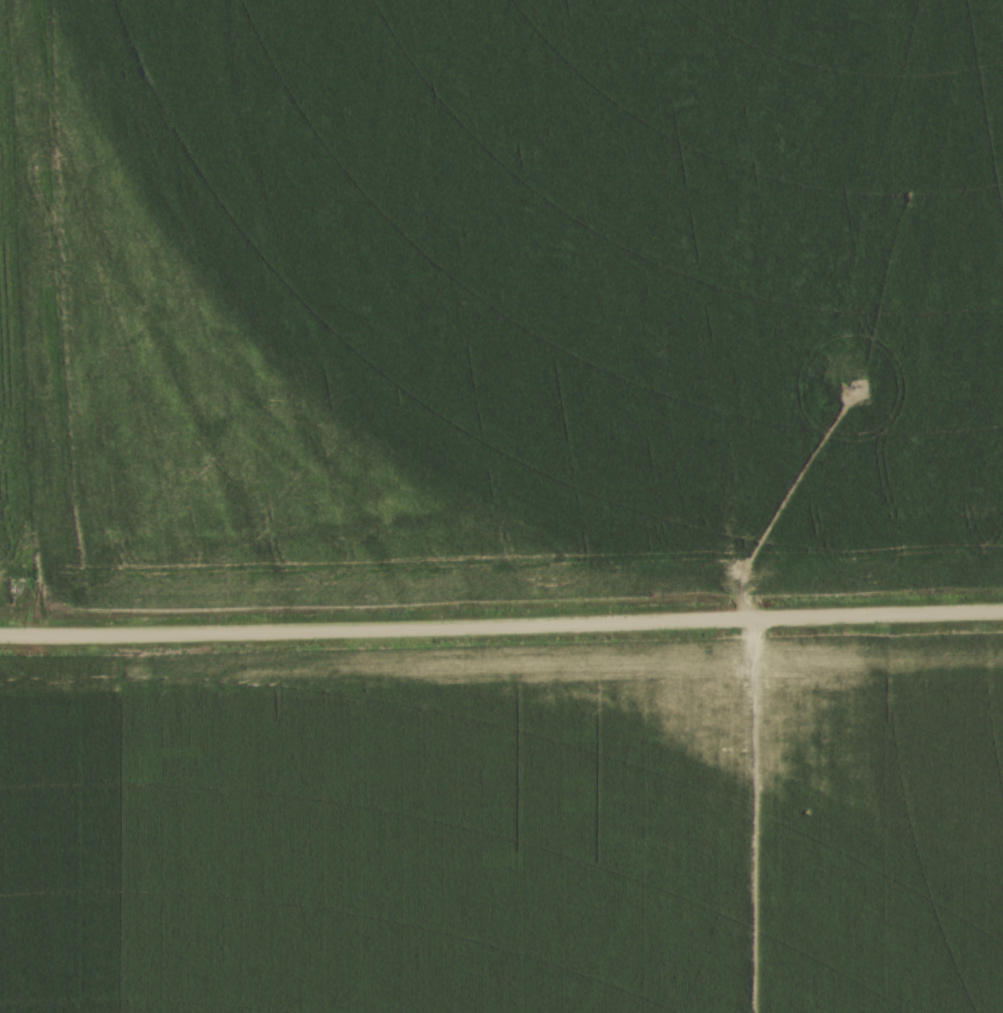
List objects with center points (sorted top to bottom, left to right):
road: (501, 625)

